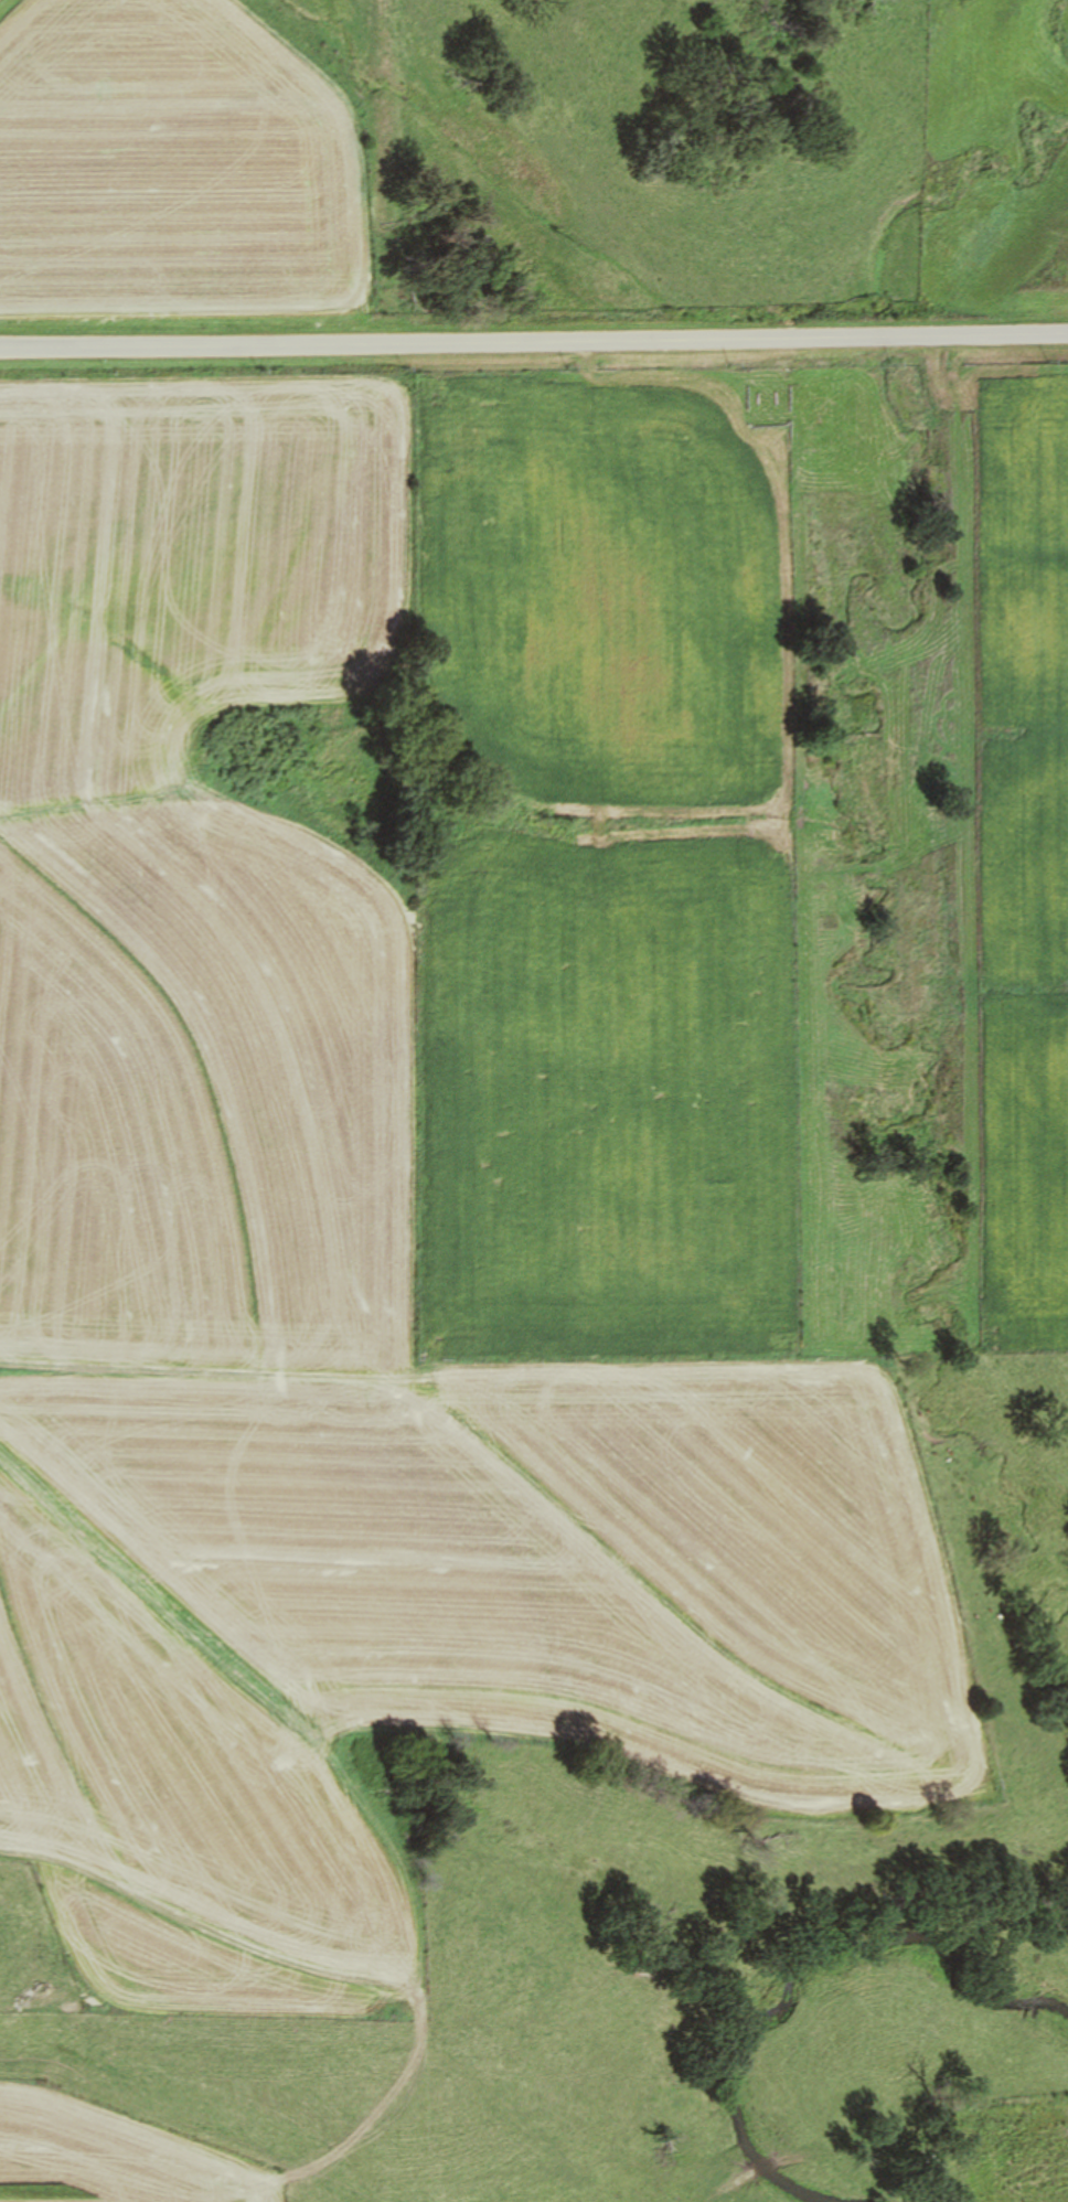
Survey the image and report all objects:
road: (534, 342)
river: (795, 1975)

